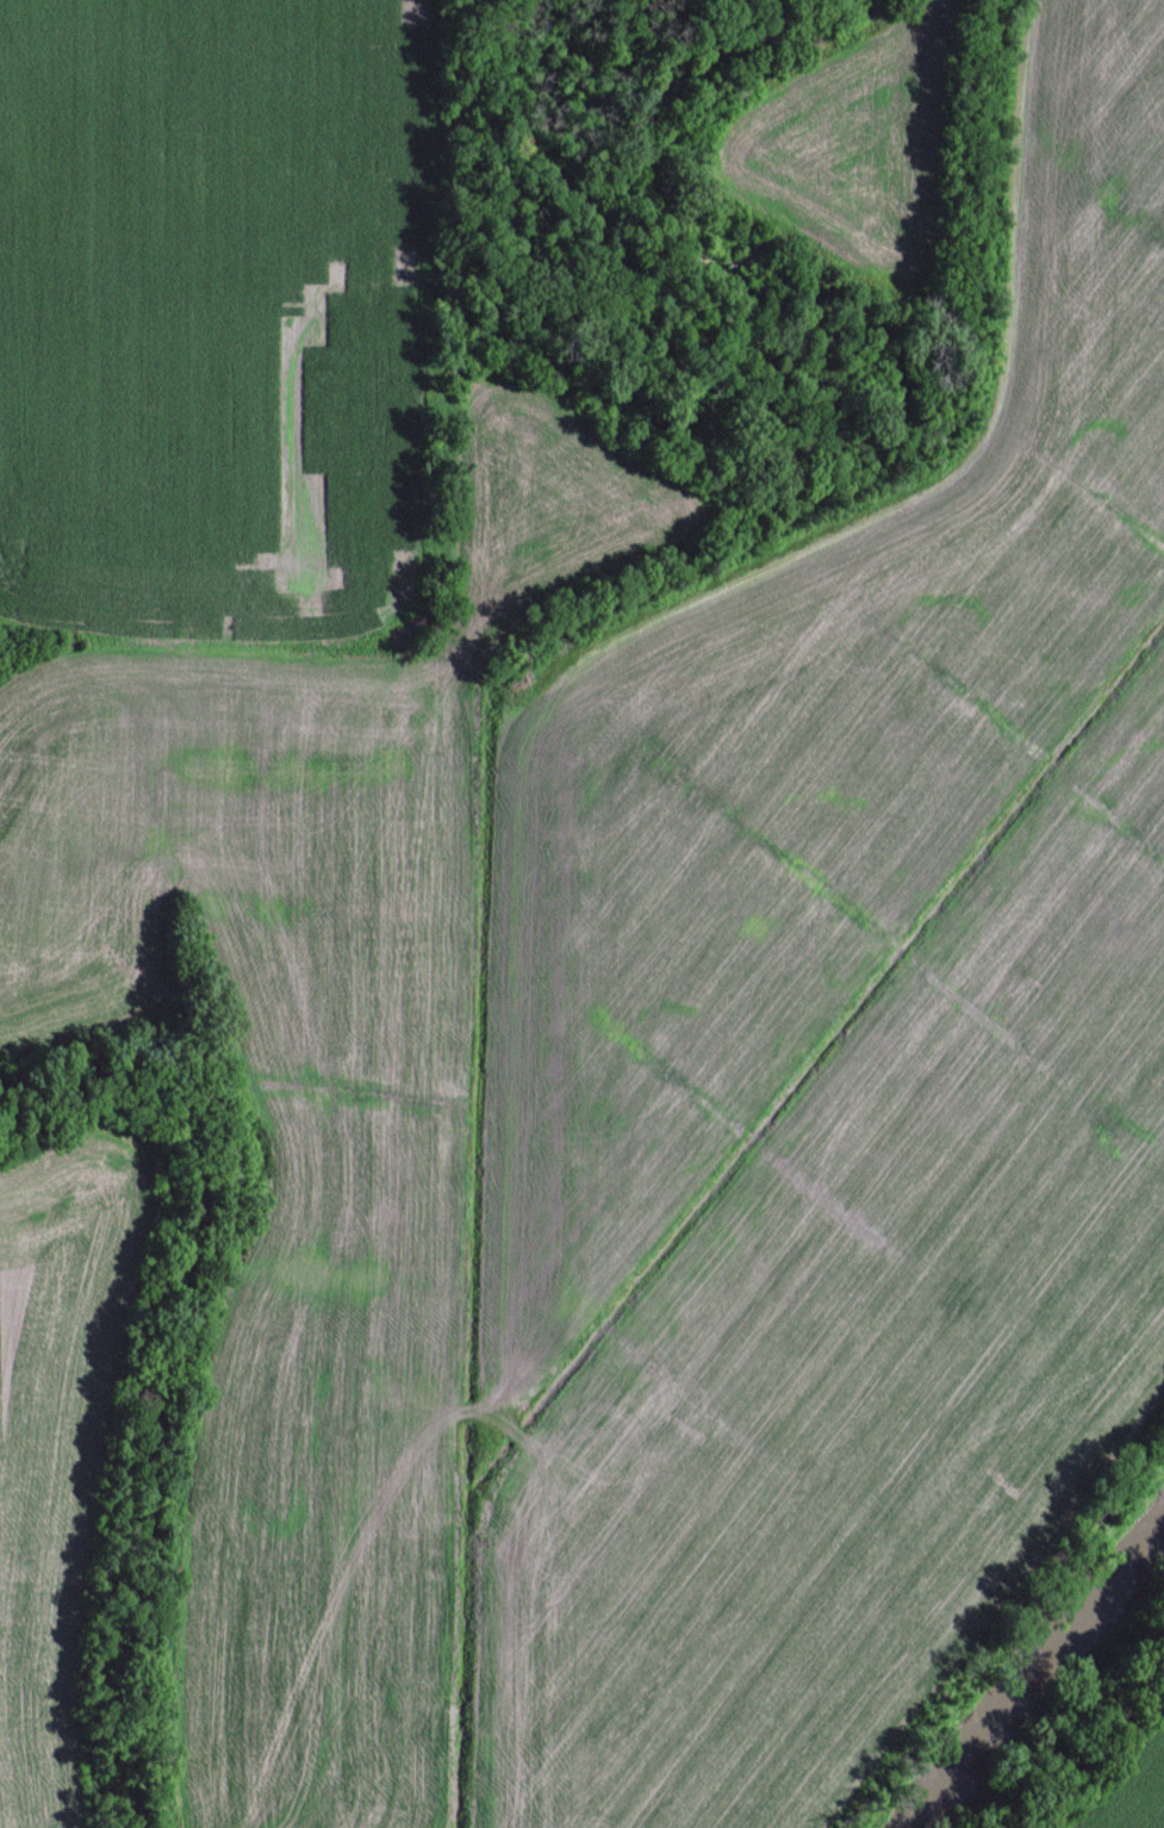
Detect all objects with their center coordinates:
river: (1053, 1686)

